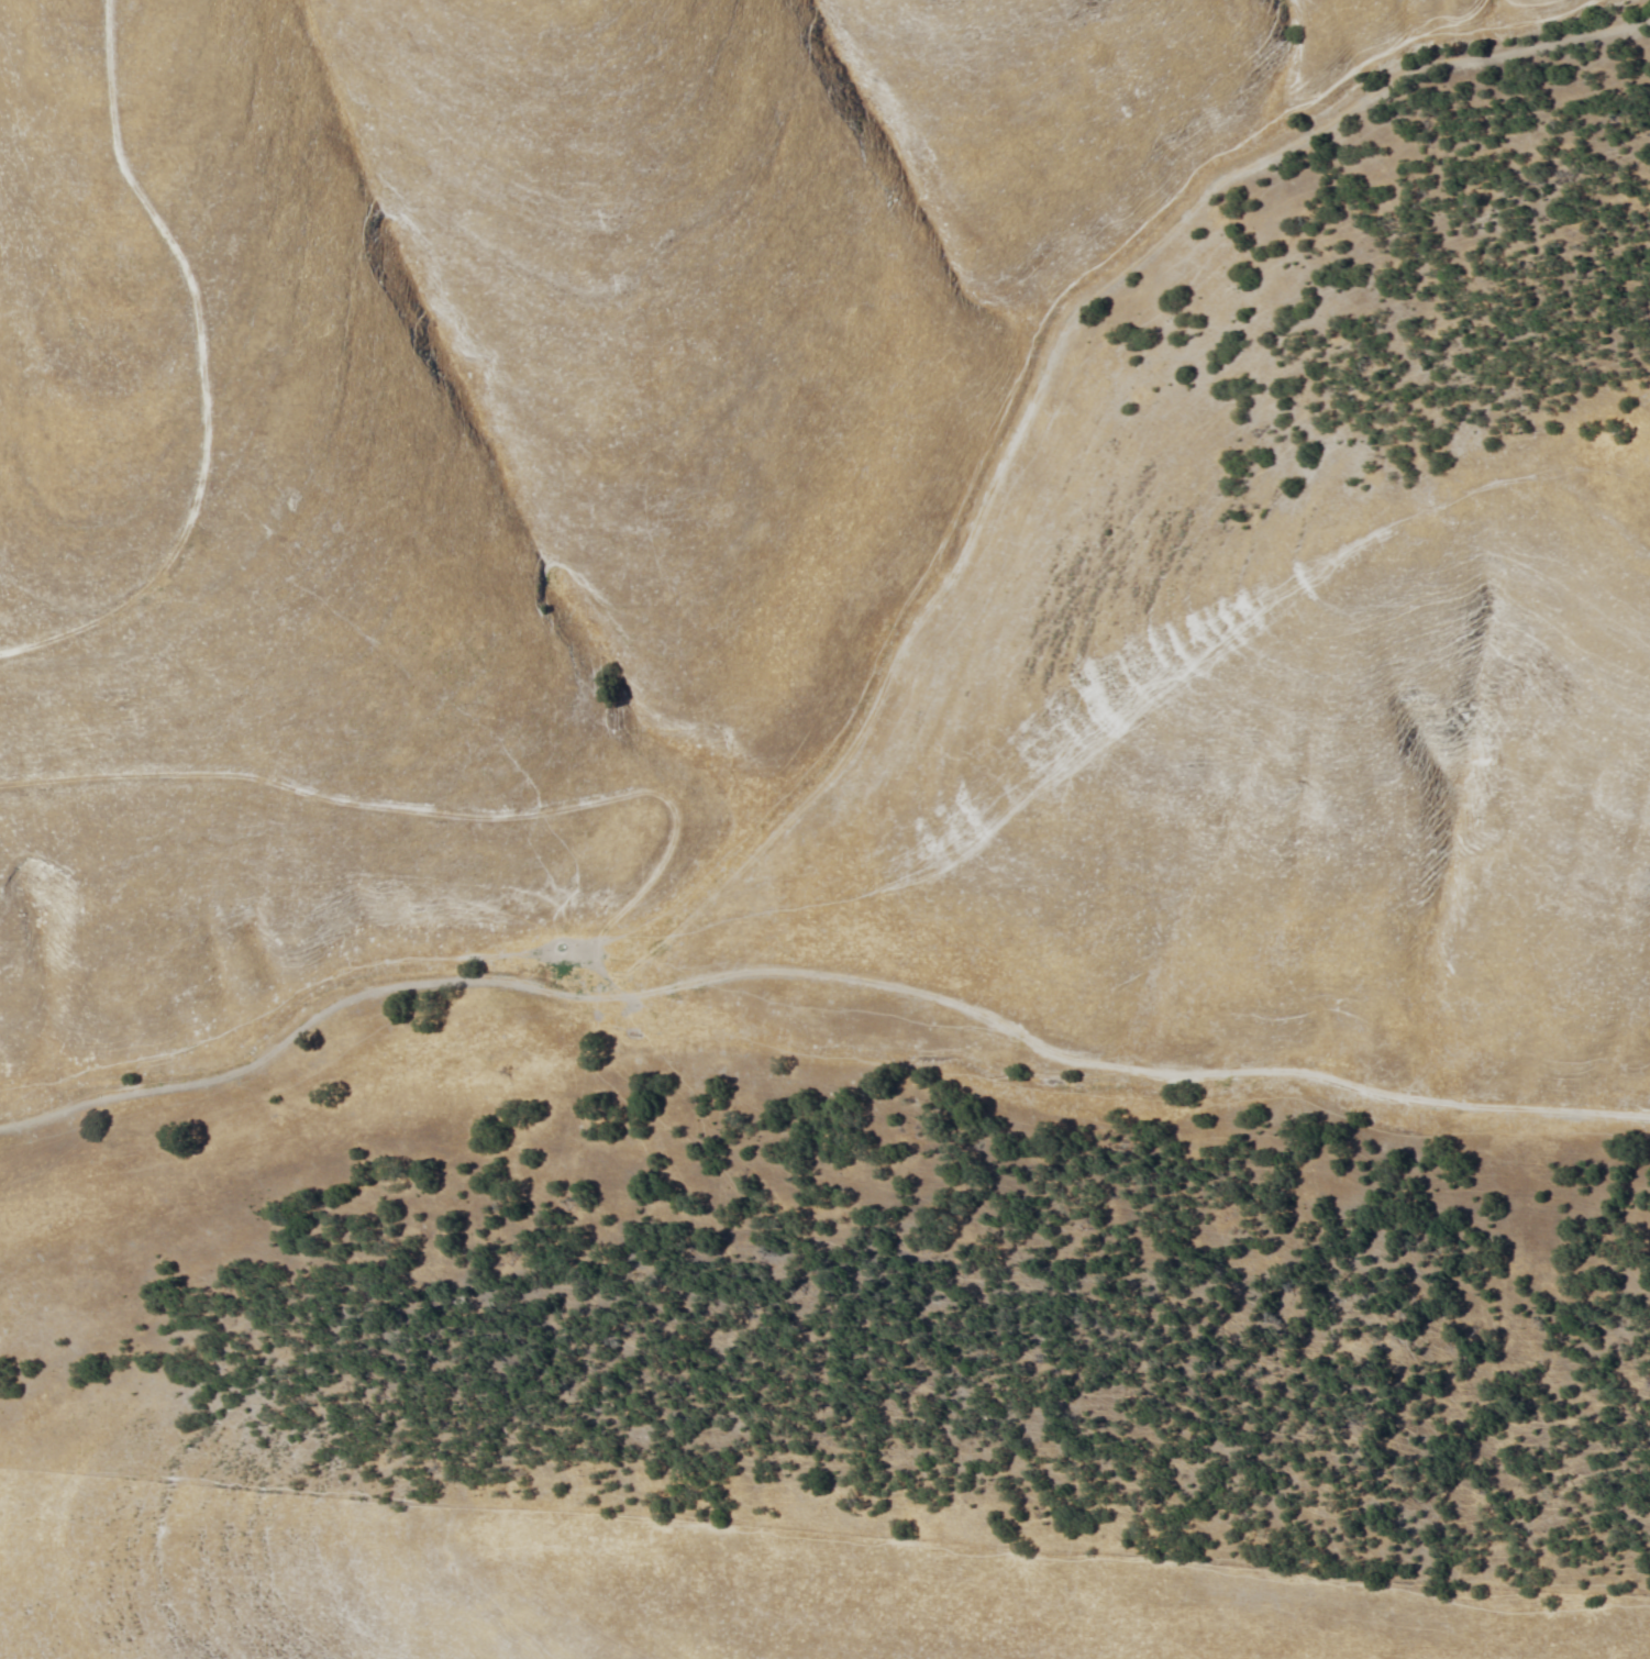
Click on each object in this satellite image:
road: (213, 384)
road: (1053, 440)
road: (640, 898)
road: (1189, 1064)

